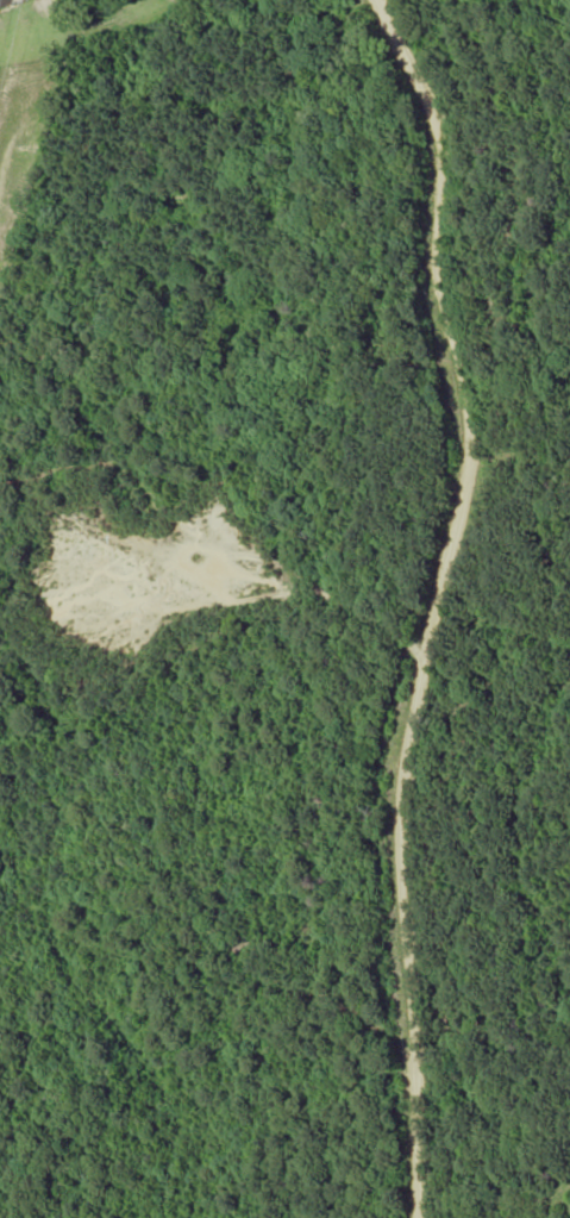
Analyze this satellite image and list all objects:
road: (439, 601)

